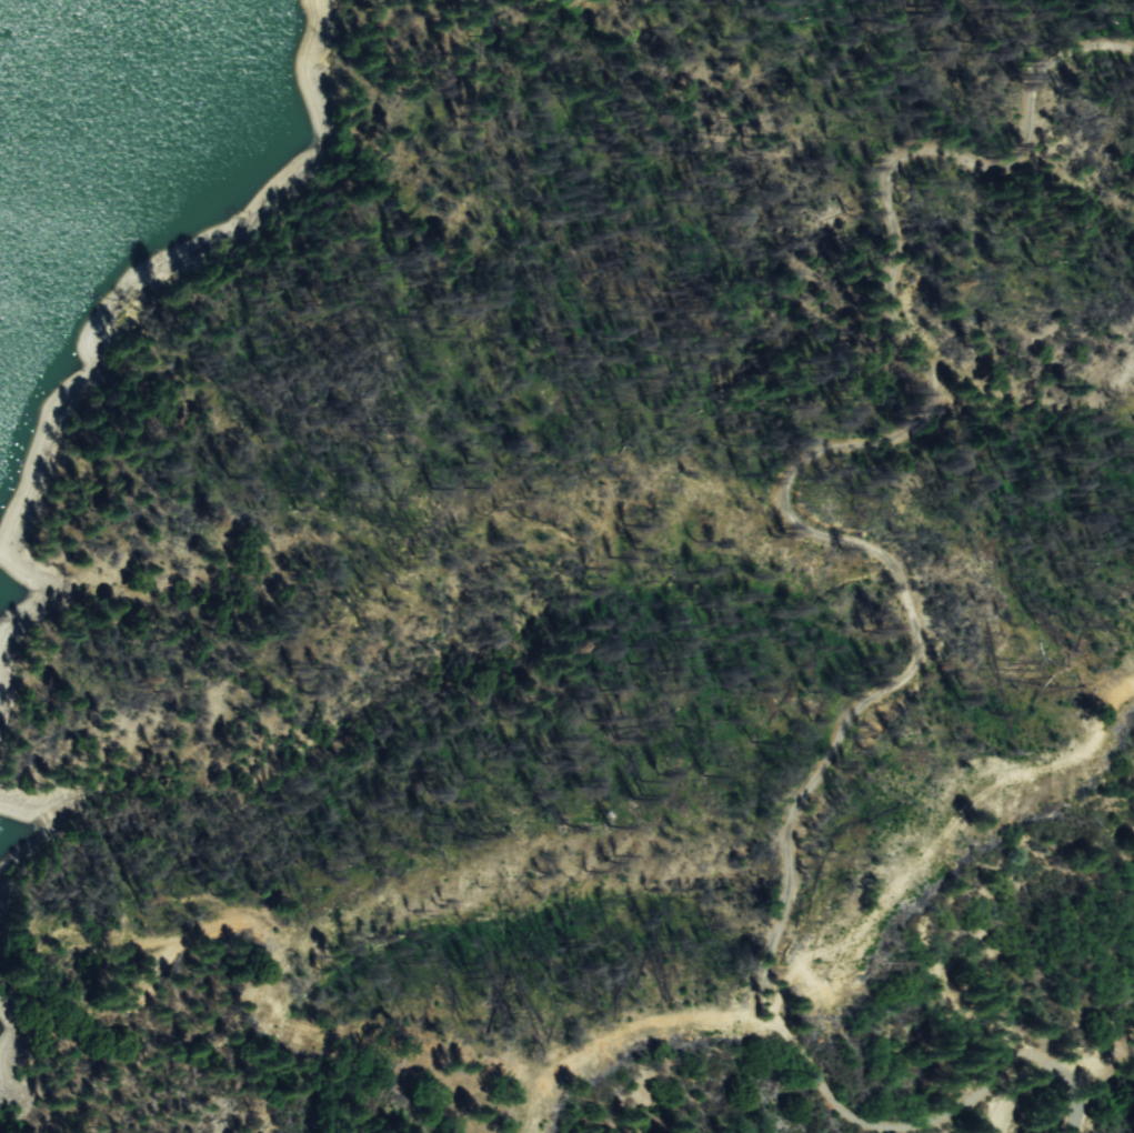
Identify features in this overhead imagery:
road: (865, 547)
road: (1050, 1076)

